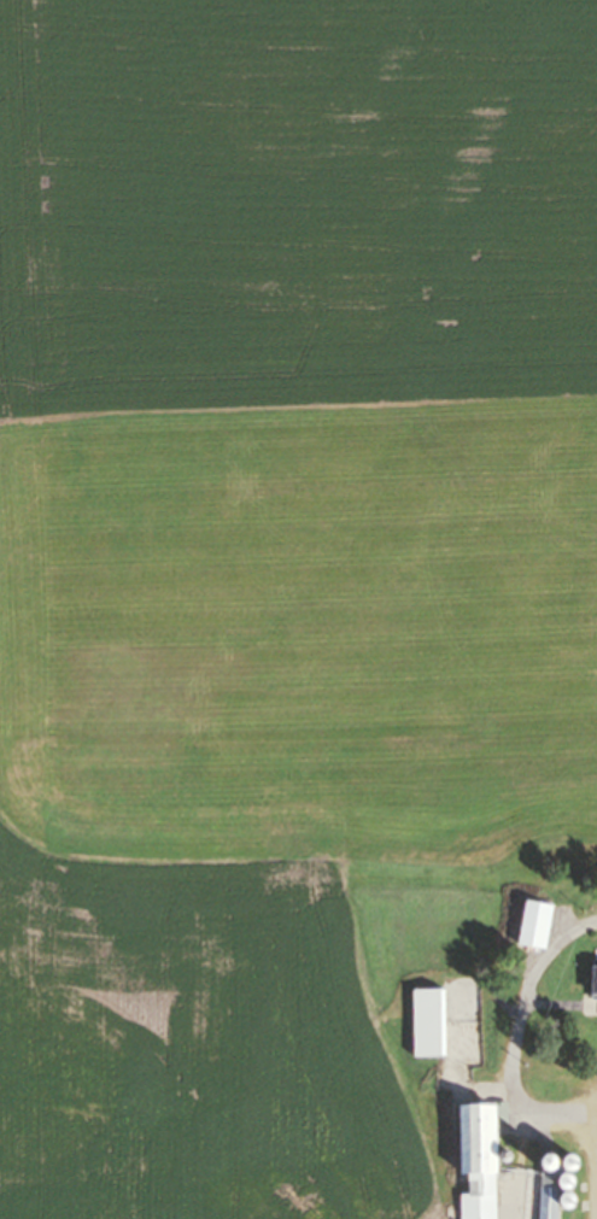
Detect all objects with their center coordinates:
road: (591, 922)
building: (539, 924)
building: (596, 979)
building: (432, 1022)
road: (520, 1091)
road: (595, 1102)
building: (481, 1159)
building: (552, 1194)

